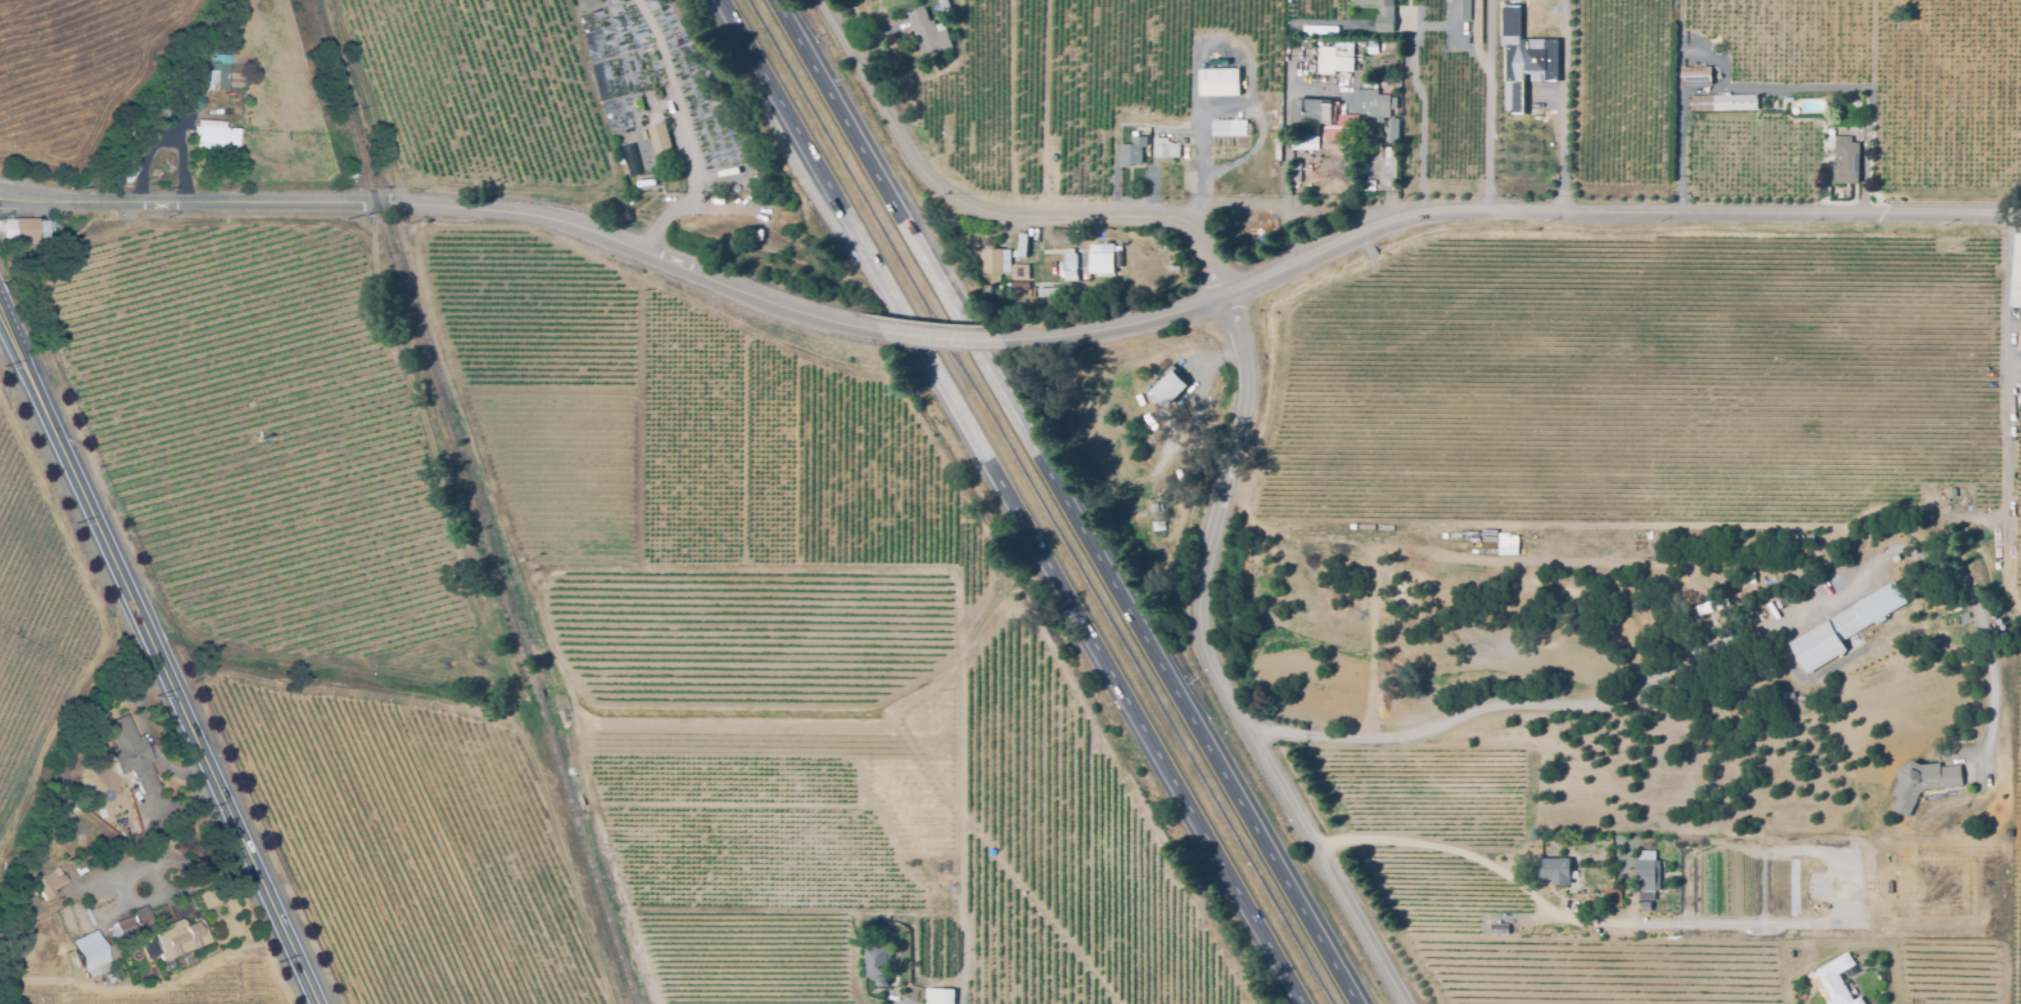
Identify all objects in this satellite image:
building: (1400, 0)
building: (943, 5)
building: (1465, 9)
building: (1382, 13)
building: (928, 34)
building: (1371, 45)
building: (1333, 59)
building: (1299, 64)
building: (217, 72)
building: (1696, 76)
building: (1220, 80)
building: (194, 102)
building: (1725, 103)
building: (638, 105)
road: (1564, 107)
building: (1381, 110)
building: (1310, 111)
road: (1492, 117)
building: (1230, 128)
road: (684, 134)
building: (643, 135)
building: (214, 136)
building: (1327, 136)
building: (659, 140)
building: (1164, 148)
road: (1205, 148)
building: (1131, 151)
building: (1393, 153)
building: (630, 159)
building: (1846, 161)
building: (353, 172)
building: (1295, 172)
building: (1367, 179)
building: (736, 189)
road: (452, 211)
road: (993, 212)
road: (1615, 214)
building: (26, 231)
building: (759, 234)
building: (1116, 236)
building: (1091, 240)
building: (1025, 246)
building: (1007, 253)
building: (1100, 259)
building: (990, 260)
building: (1070, 262)
building: (1020, 272)
building: (2016, 275)
building: (1016, 285)
building: (1048, 291)
road: (2005, 296)
road: (1120, 331)
road: (947, 337)
building: (2019, 340)
building: (1169, 386)
road: (2006, 488)
building: (1951, 493)
railway: (476, 501)
road: (1012, 502)
road: (1065, 502)
building: (1156, 508)
building: (1159, 527)
building: (1749, 575)
building: (1704, 607)
building: (1843, 628)
road: (1709, 646)
road: (159, 655)
road: (1212, 673)
building: (131, 755)
building: (1923, 782)
road: (151, 844)
road: (1484, 857)
building: (1552, 872)
building: (1646, 876)
building: (47, 884)
road: (188, 888)
building: (1615, 897)
building: (1646, 904)
building: (133, 922)
building: (887, 930)
building: (1497, 930)
building: (179, 938)
building: (90, 954)
building: (877, 960)
building: (169, 967)
building: (1836, 980)
building: (939, 996)

